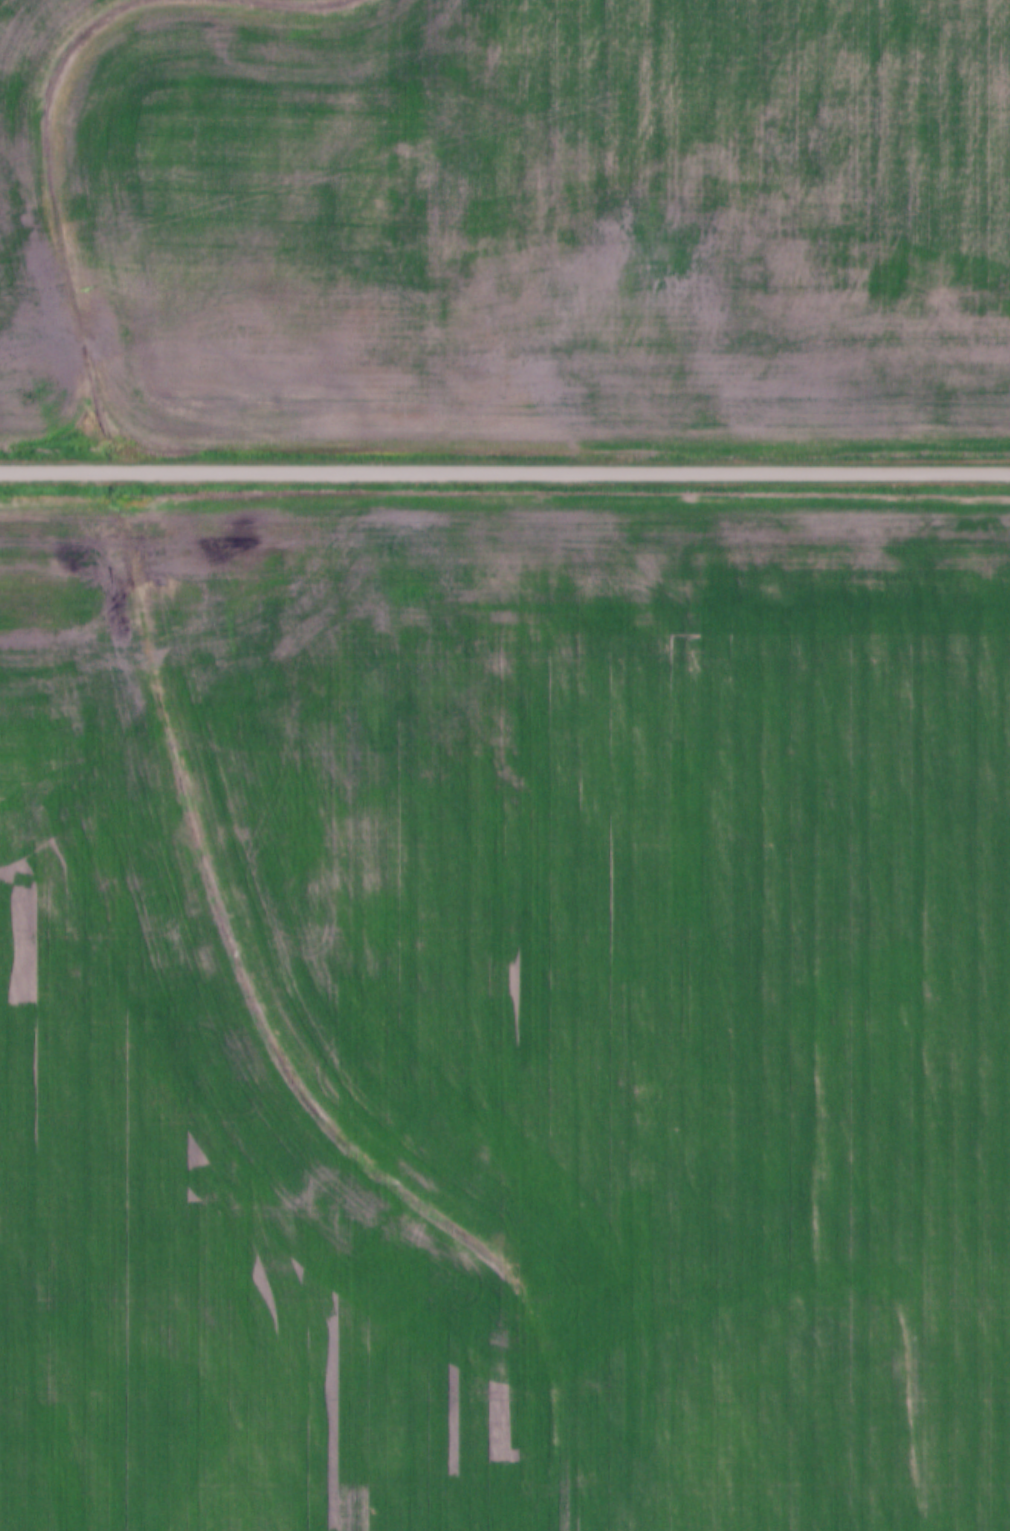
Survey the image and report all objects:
road: (505, 471)

